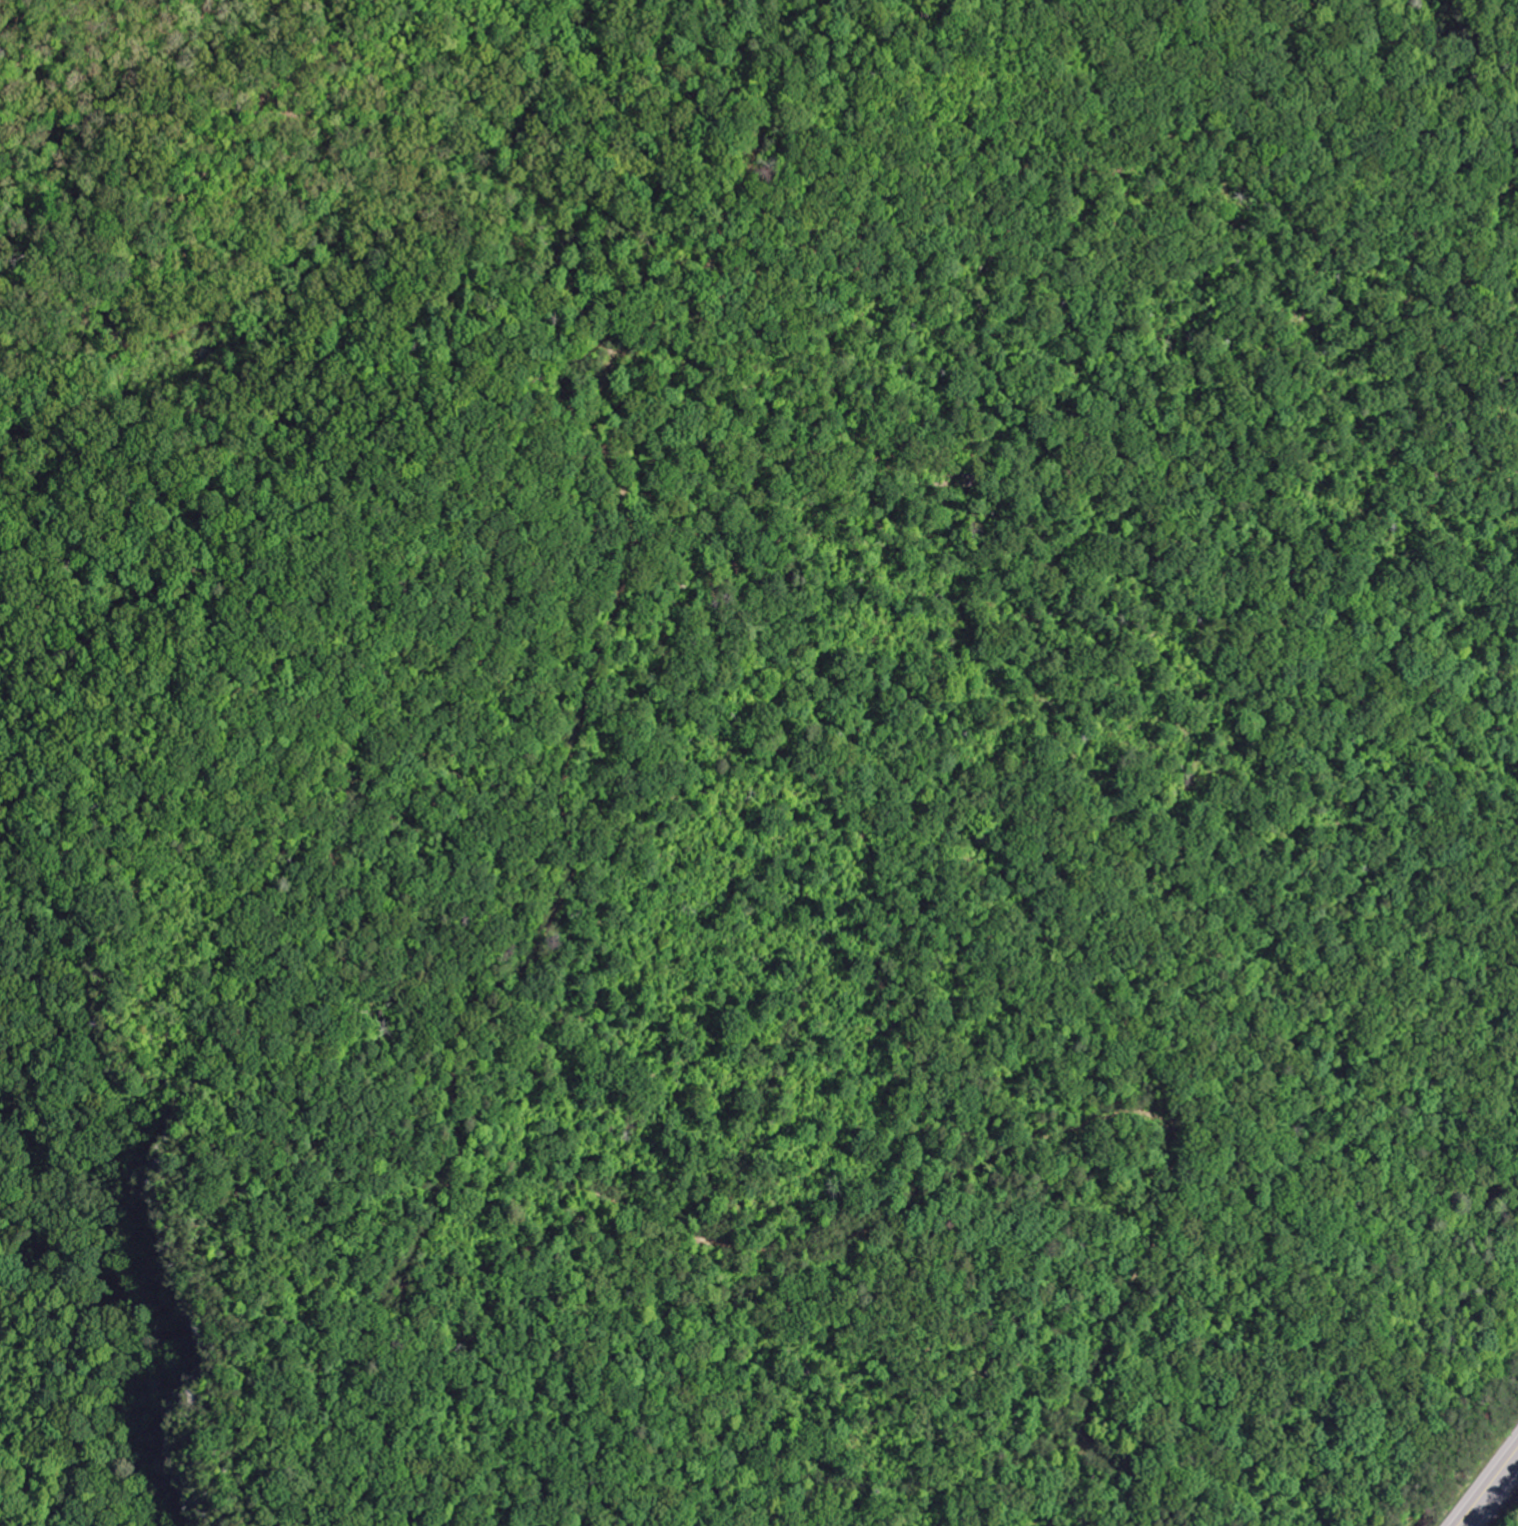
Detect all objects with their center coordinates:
road: (1487, 1486)

